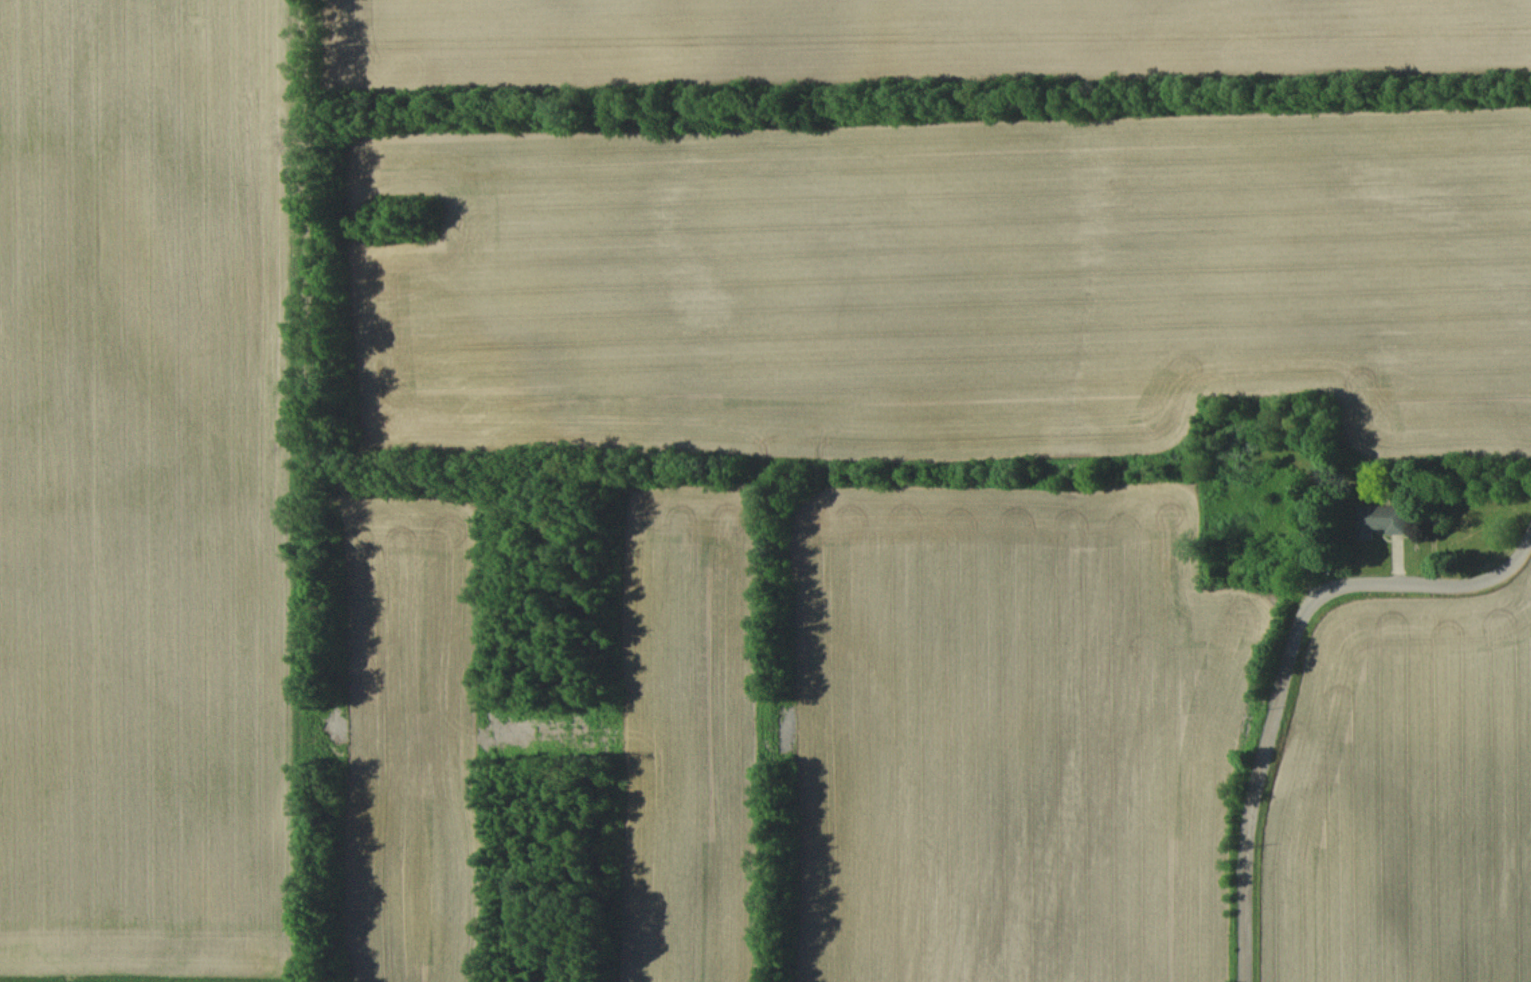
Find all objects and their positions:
building: (1381, 519)
road: (1287, 670)

